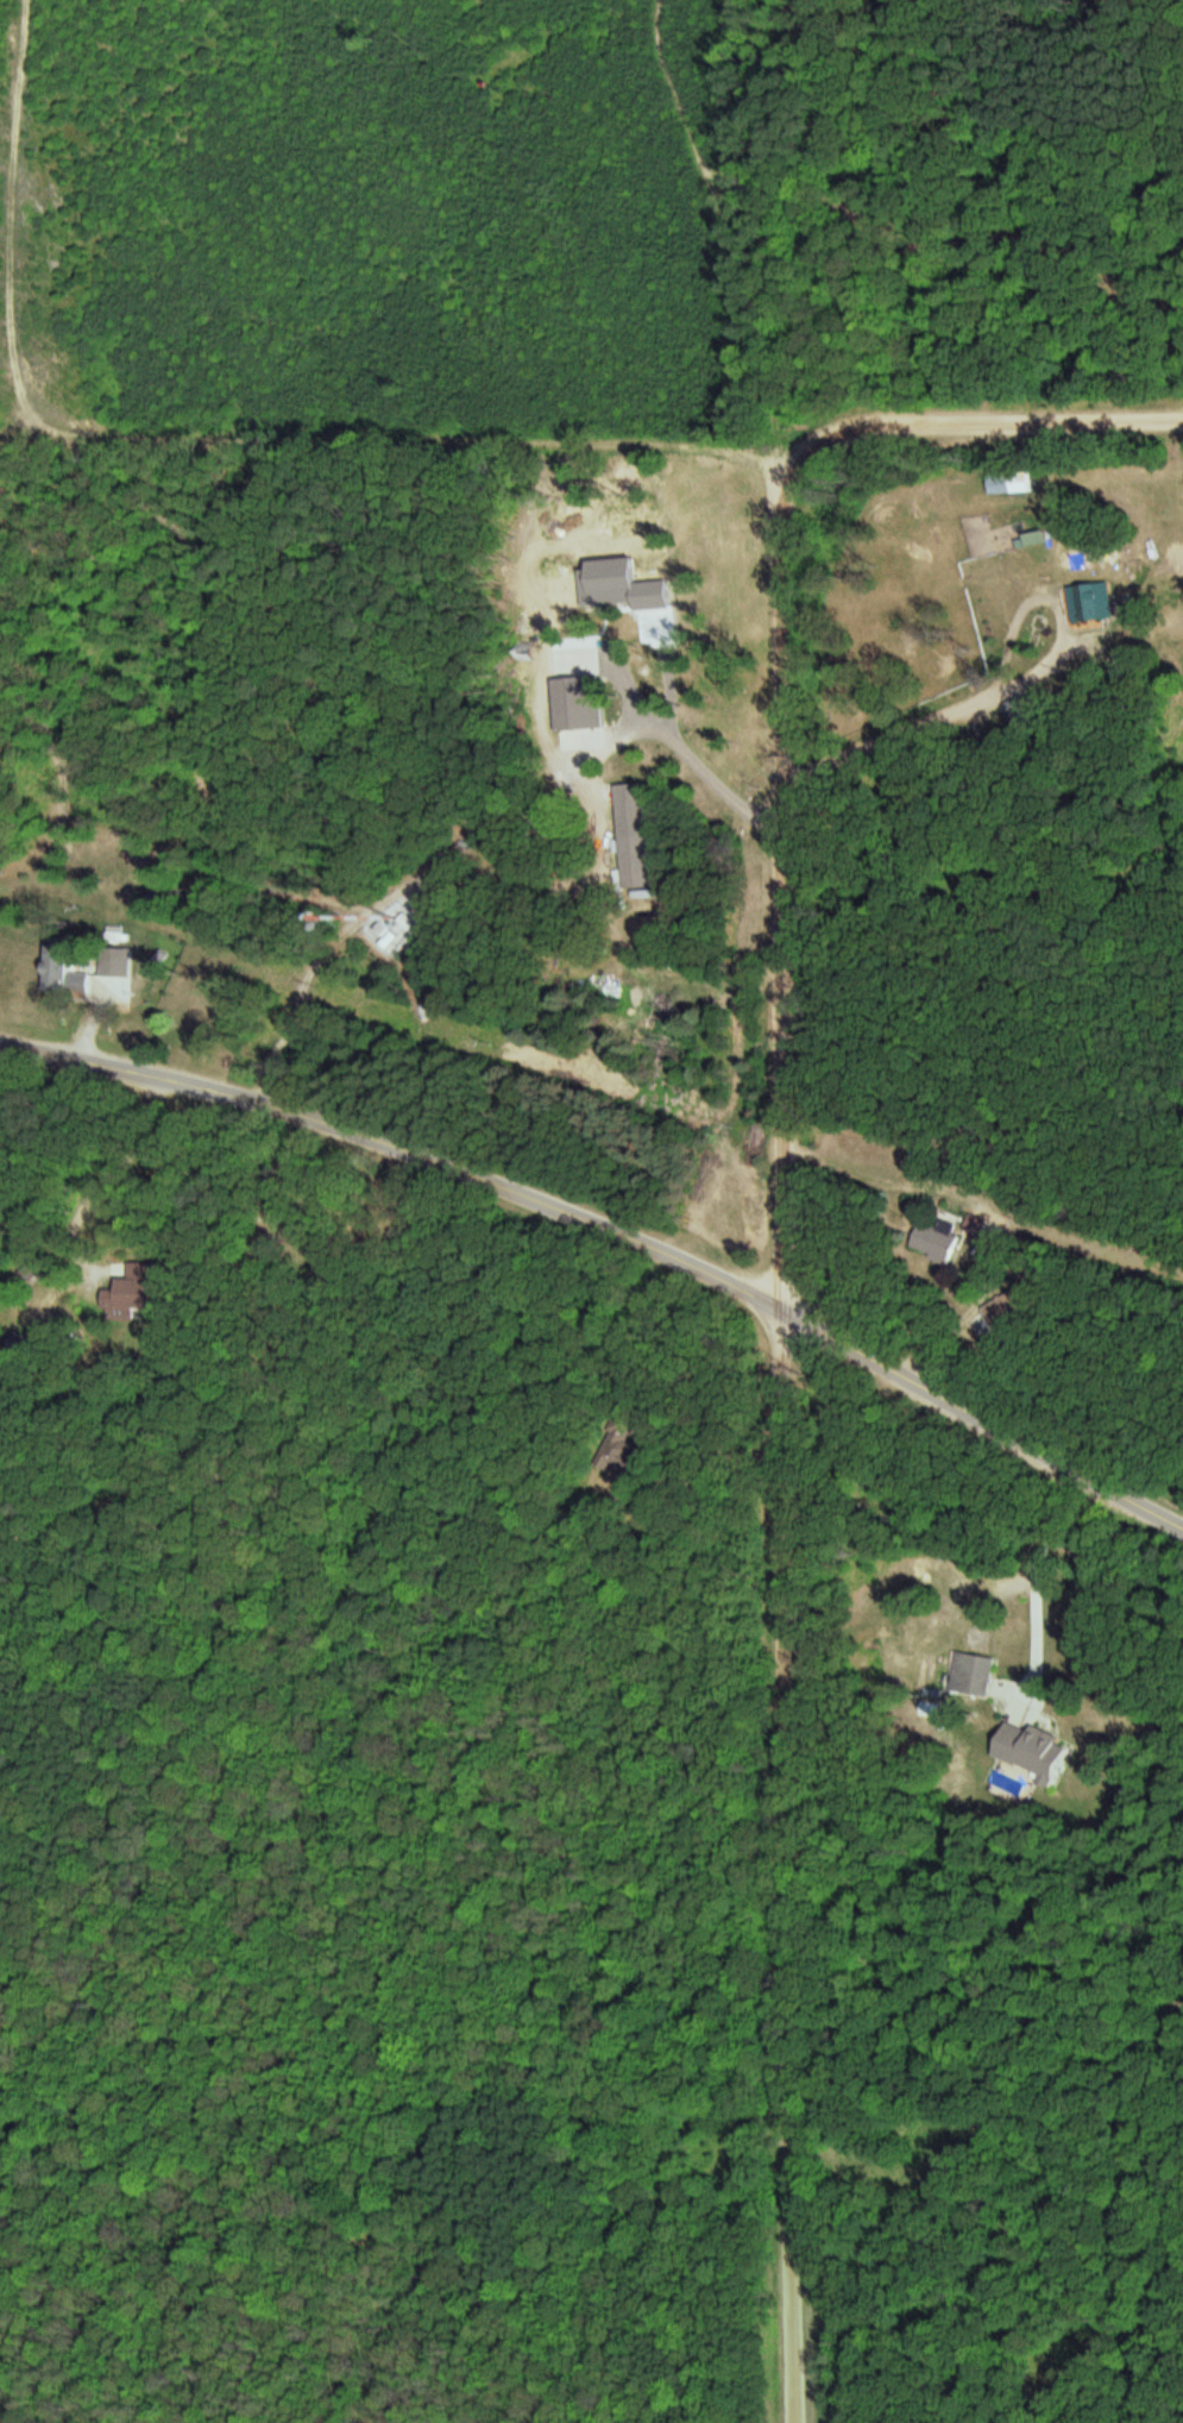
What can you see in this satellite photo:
road: (984, 431)
road: (194, 476)
building: (1013, 482)
building: (1093, 601)
road: (487, 908)
building: (68, 979)
road: (399, 1150)
road: (971, 1178)
building: (935, 1242)
building: (115, 1294)
building: (1005, 1312)
road: (981, 1423)
road: (787, 1430)
building: (974, 1671)
building: (1031, 1749)

